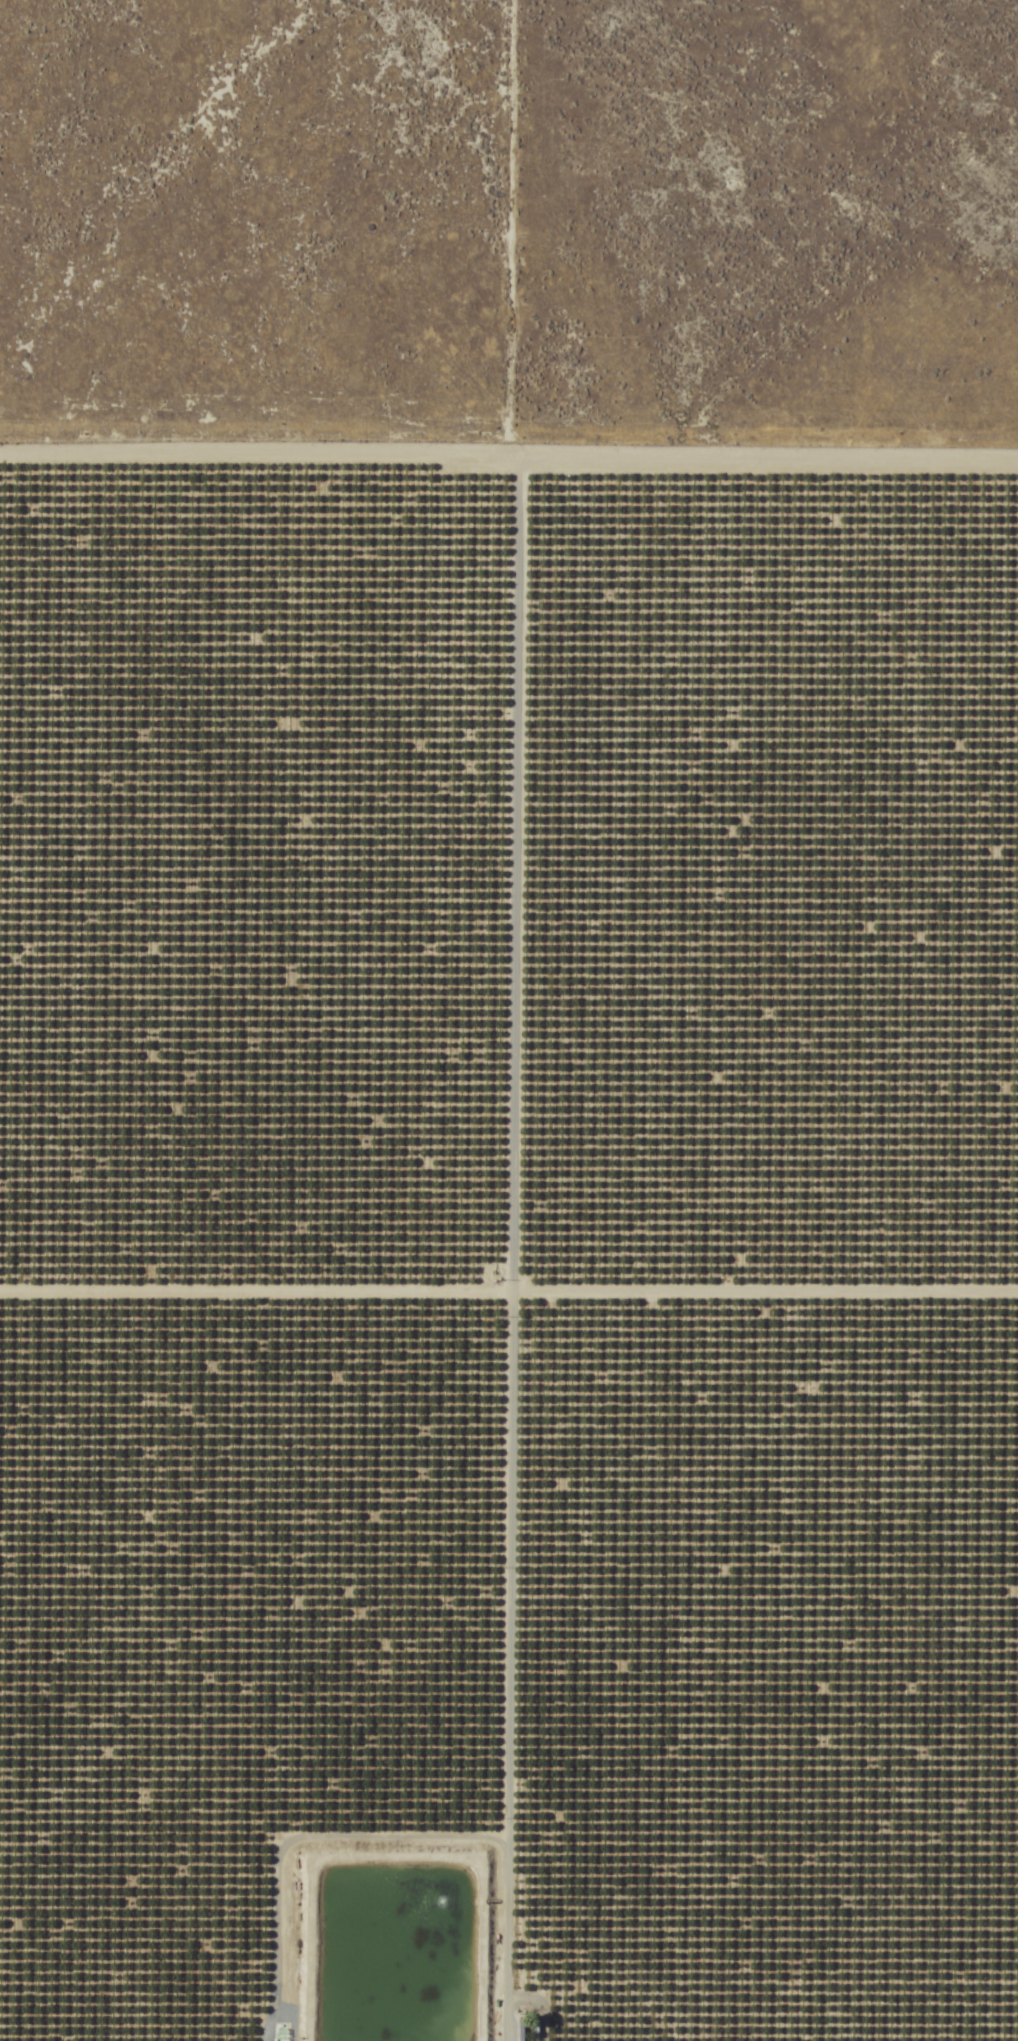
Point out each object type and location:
road: (509, 451)
road: (482, 853)
road: (508, 1255)
wastewater plant: (394, 1952)
building: (659, 2016)

